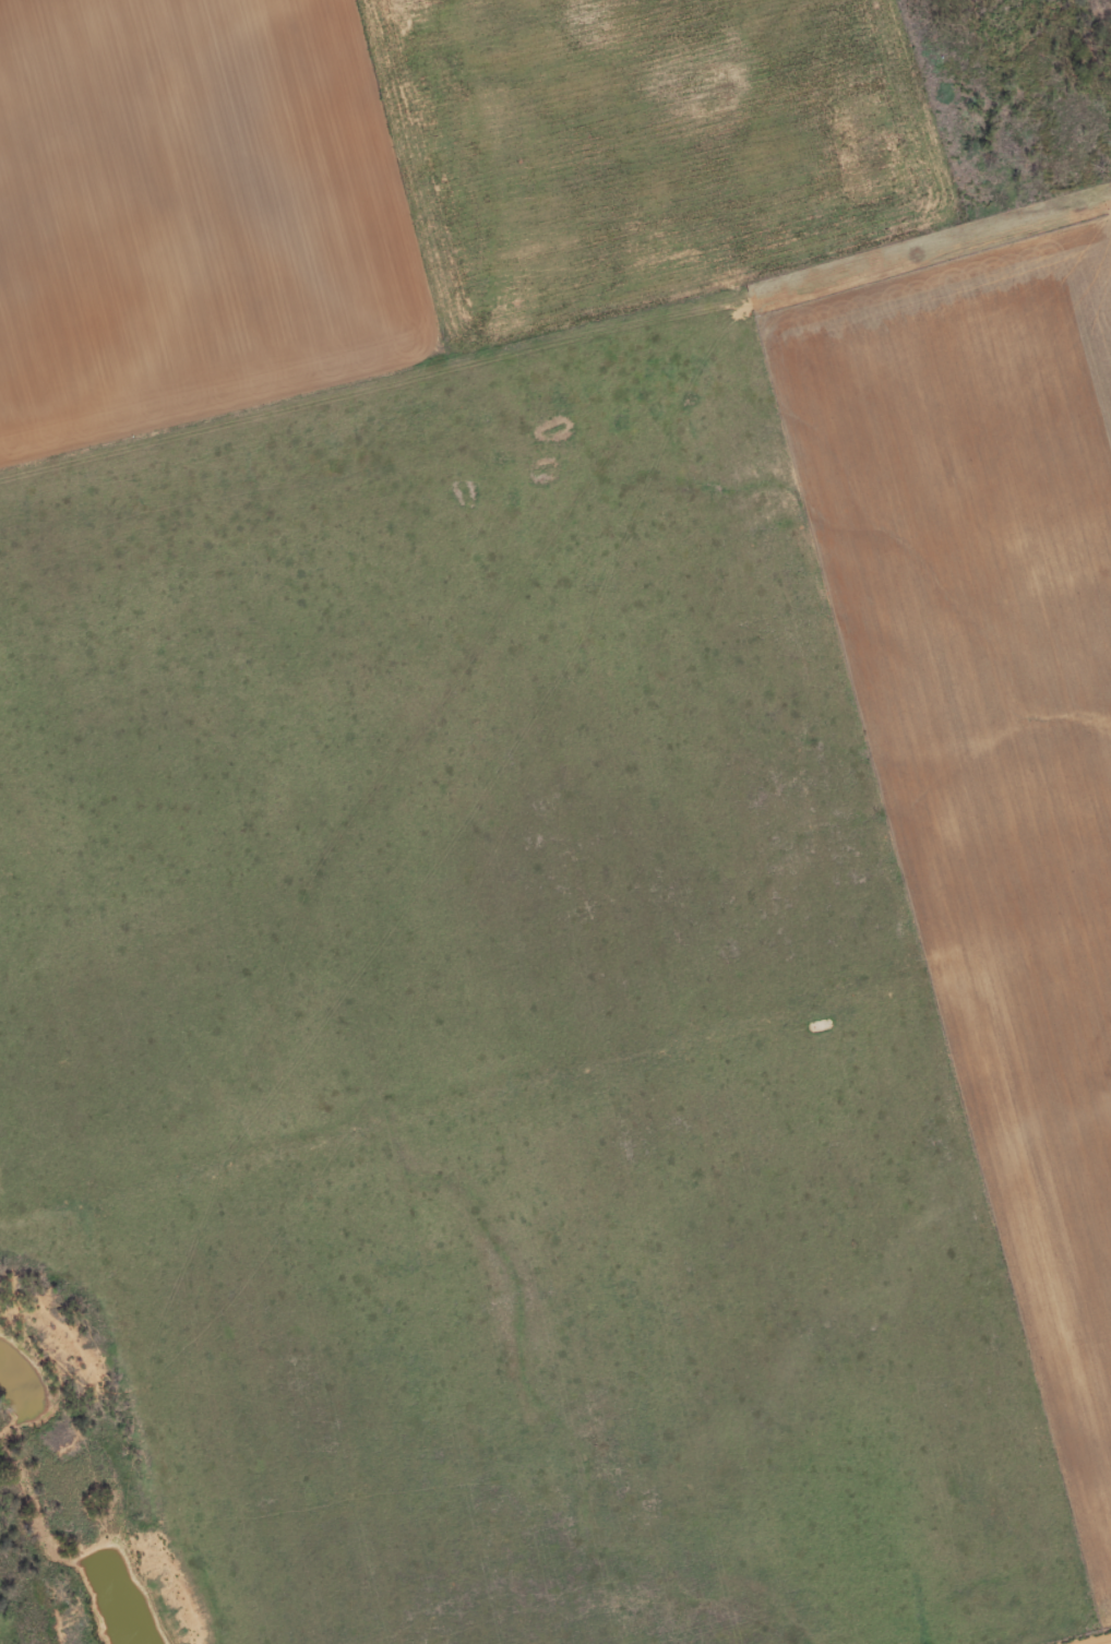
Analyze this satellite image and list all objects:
road: (1098, 1641)

